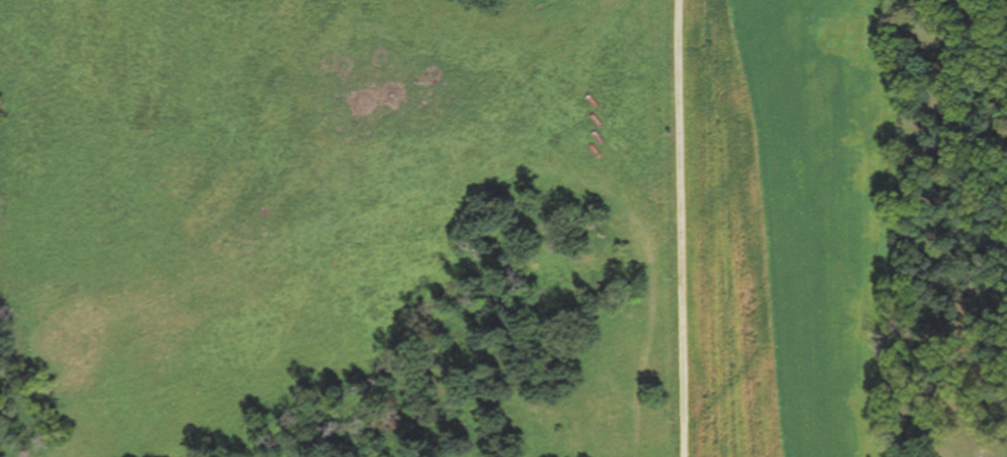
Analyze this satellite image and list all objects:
road: (709, 228)

